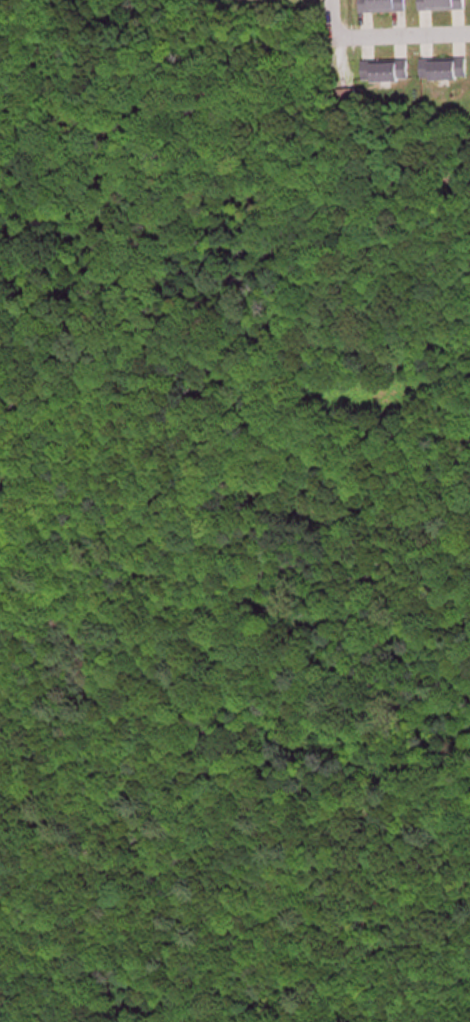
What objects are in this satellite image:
building: (440, 4)
building: (381, 5)
road: (329, 16)
road: (401, 33)
building: (442, 66)
building: (384, 68)

